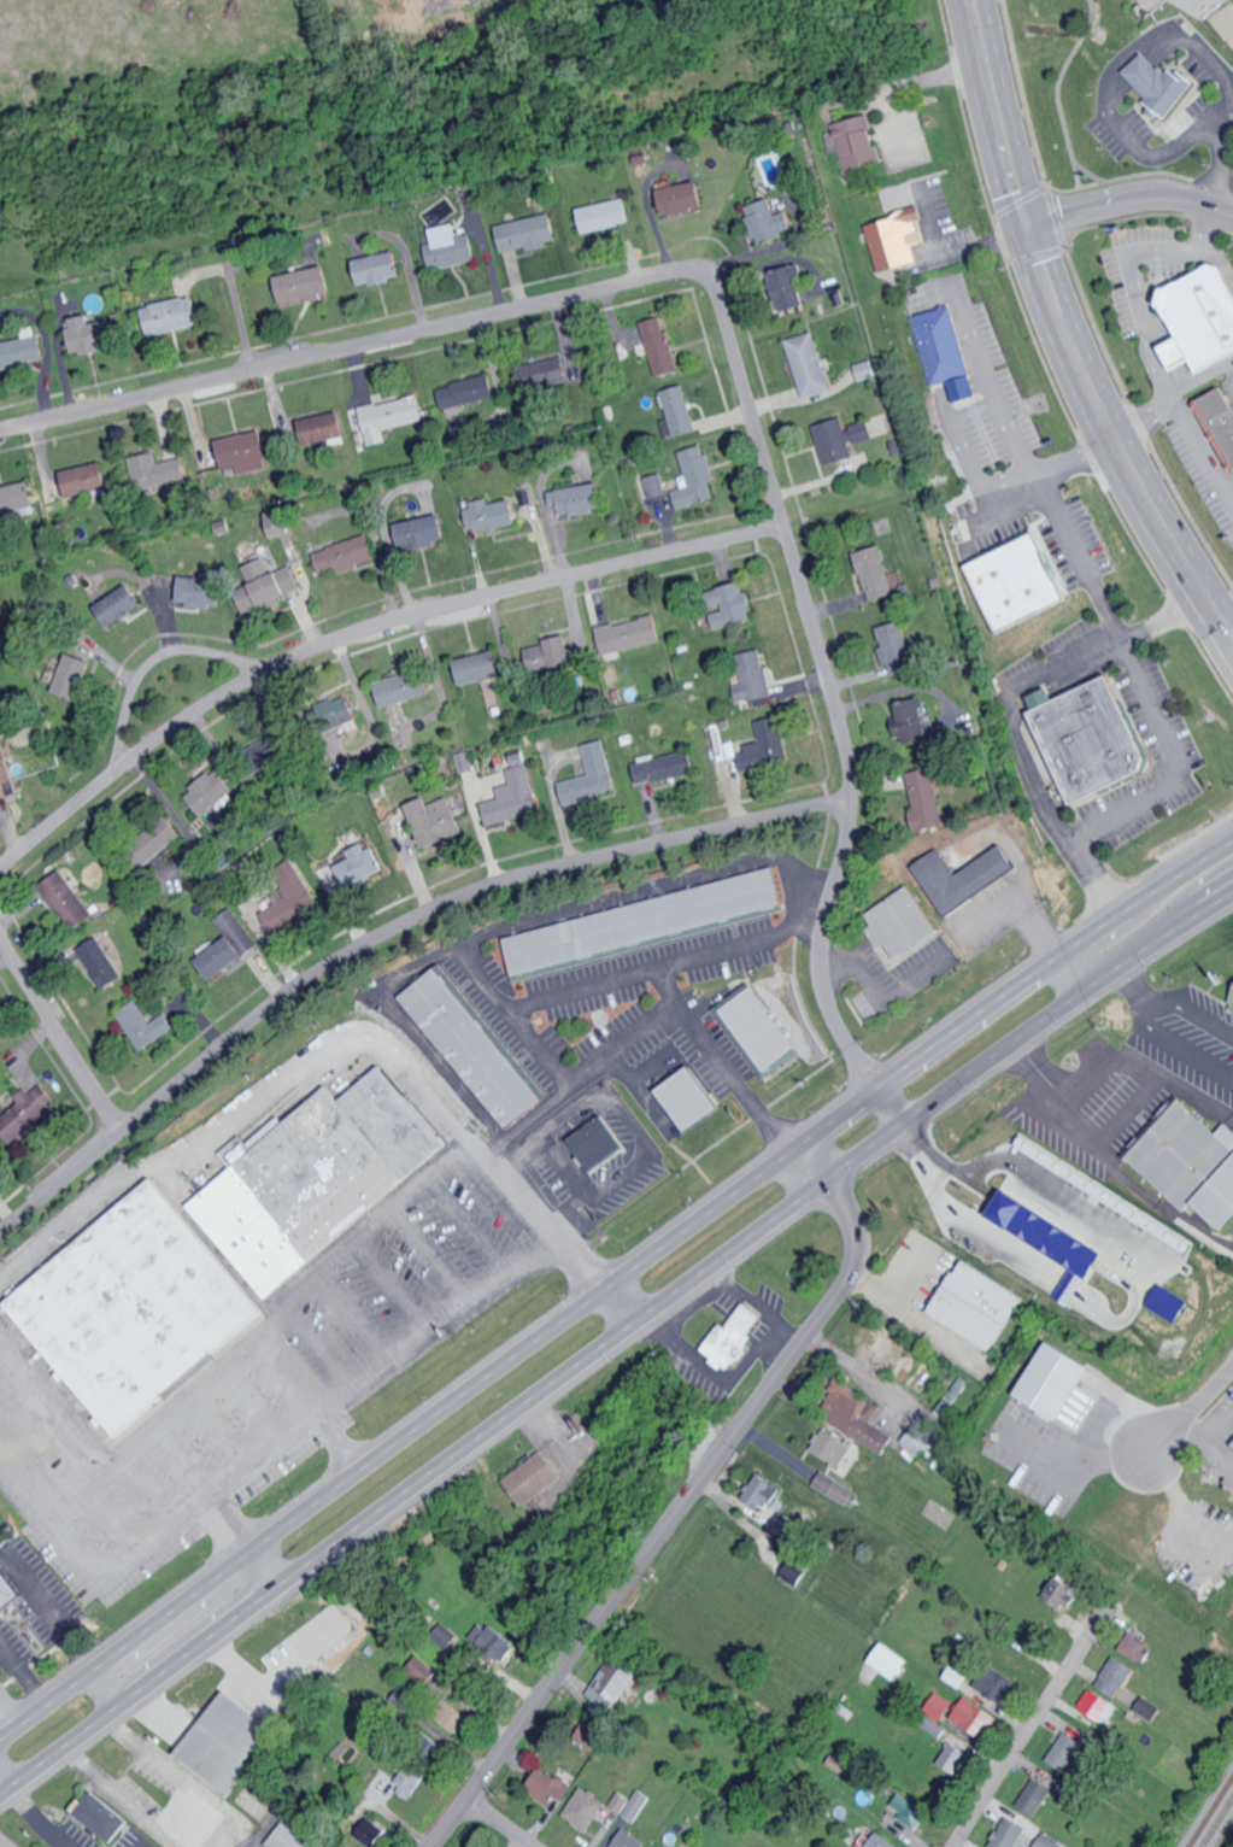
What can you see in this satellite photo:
road: (1178, 30)
building: (1158, 82)
building: (856, 142)
road: (1153, 152)
road: (1220, 170)
building: (685, 198)
road: (1131, 205)
building: (606, 215)
building: (770, 222)
traffic signals: (1029, 230)
building: (530, 233)
building: (898, 240)
building: (451, 247)
building: (381, 268)
building: (306, 283)
building: (792, 288)
building: (174, 315)
road: (1145, 315)
building: (1203, 319)
road: (733, 329)
building: (93, 334)
road: (1067, 334)
building: (943, 345)
building: (660, 346)
building: (22, 347)
building: (811, 364)
building: (553, 370)
building: (869, 370)
building: (469, 393)
building: (679, 412)
building: (391, 416)
building: (1221, 420)
building: (319, 428)
building: (846, 440)
road: (1026, 444)
road: (1204, 447)
building: (246, 451)
building: (154, 471)
building: (695, 477)
building: (84, 479)
building: (656, 485)
building: (16, 497)
building: (580, 498)
building: (494, 514)
building: (282, 523)
building: (424, 532)
road: (1081, 551)
building: (348, 555)
building: (879, 573)
building: (275, 580)
building: (1017, 581)
building: (204, 591)
building: (121, 605)
building: (735, 605)
road: (362, 629)
building: (632, 634)
road: (1231, 634)
building: (898, 649)
building: (565, 652)
road: (153, 657)
building: (482, 667)
building: (76, 676)
building: (757, 676)
building: (406, 687)
road: (1010, 709)
building: (345, 713)
building: (914, 720)
building: (1094, 738)
building: (768, 746)
road: (1172, 757)
building: (465, 762)
building: (665, 767)
building: (5, 769)
building: (592, 776)
building: (211, 793)
building: (515, 794)
building: (928, 799)
building: (435, 821)
building: (152, 845)
building: (351, 873)
building: (971, 879)
road: (812, 889)
building: (67, 901)
road: (603, 903)
building: (283, 914)
building: (644, 921)
building: (902, 923)
road: (382, 931)
building: (229, 944)
building: (101, 962)
road: (1123, 962)
road: (542, 1005)
building: (1232, 1010)
road: (1153, 1015)
road: (651, 1020)
building: (147, 1025)
building: (763, 1030)
road: (59, 1036)
building: (474, 1048)
road: (541, 1050)
road: (295, 1077)
road: (1190, 1091)
building: (692, 1100)
road: (892, 1101)
building: (28, 1112)
road: (627, 1115)
road: (1118, 1116)
road: (923, 1143)
building: (599, 1144)
building: (1192, 1162)
road: (1020, 1166)
building: (318, 1178)
road: (1150, 1201)
road: (470, 1225)
building: (1055, 1242)
road: (431, 1256)
road: (612, 1277)
road: (598, 1279)
road: (395, 1284)
building: (1173, 1303)
building: (981, 1306)
building: (134, 1308)
road: (282, 1308)
road: (353, 1318)
building: (735, 1338)
road: (612, 1342)
road: (319, 1348)
road: (862, 1372)
road: (287, 1378)
building: (1056, 1380)
road: (254, 1405)
building: (856, 1415)
road: (1180, 1420)
road: (218, 1433)
building: (920, 1438)
road: (336, 1441)
building: (833, 1448)
road: (265, 1452)
building: (535, 1478)
building: (839, 1489)
building: (764, 1490)
road: (689, 1499)
building: (786, 1526)
road: (241, 1544)
building: (794, 1572)
building: (8, 1591)
building: (1064, 1593)
building: (494, 1638)
building: (1137, 1646)
road: (227, 1655)
building: (891, 1660)
building: (418, 1671)
building: (1117, 1673)
building: (616, 1679)
building: (999, 1682)
road: (233, 1684)
building: (1096, 1702)
building: (939, 1706)
building: (1150, 1707)
road: (5, 1716)
building: (457, 1716)
building: (976, 1717)
road: (1034, 1729)
building: (591, 1735)
building: (231, 1741)
building: (1068, 1749)
building: (412, 1777)
building: (551, 1786)
building: (1037, 1795)
building: (632, 1804)
building: (588, 1808)
building: (910, 1810)
railway: (1209, 1810)
building: (105, 1816)
railway: (1216, 1819)
road: (497, 1825)
building: (375, 1833)
building: (1009, 1833)
building: (293, 1836)
building: (630, 1840)
building: (865, 1841)
building: (883, 1841)
building: (1047, 1841)
road: (5, 1843)
building: (468, 1846)
building: (657, 1846)

